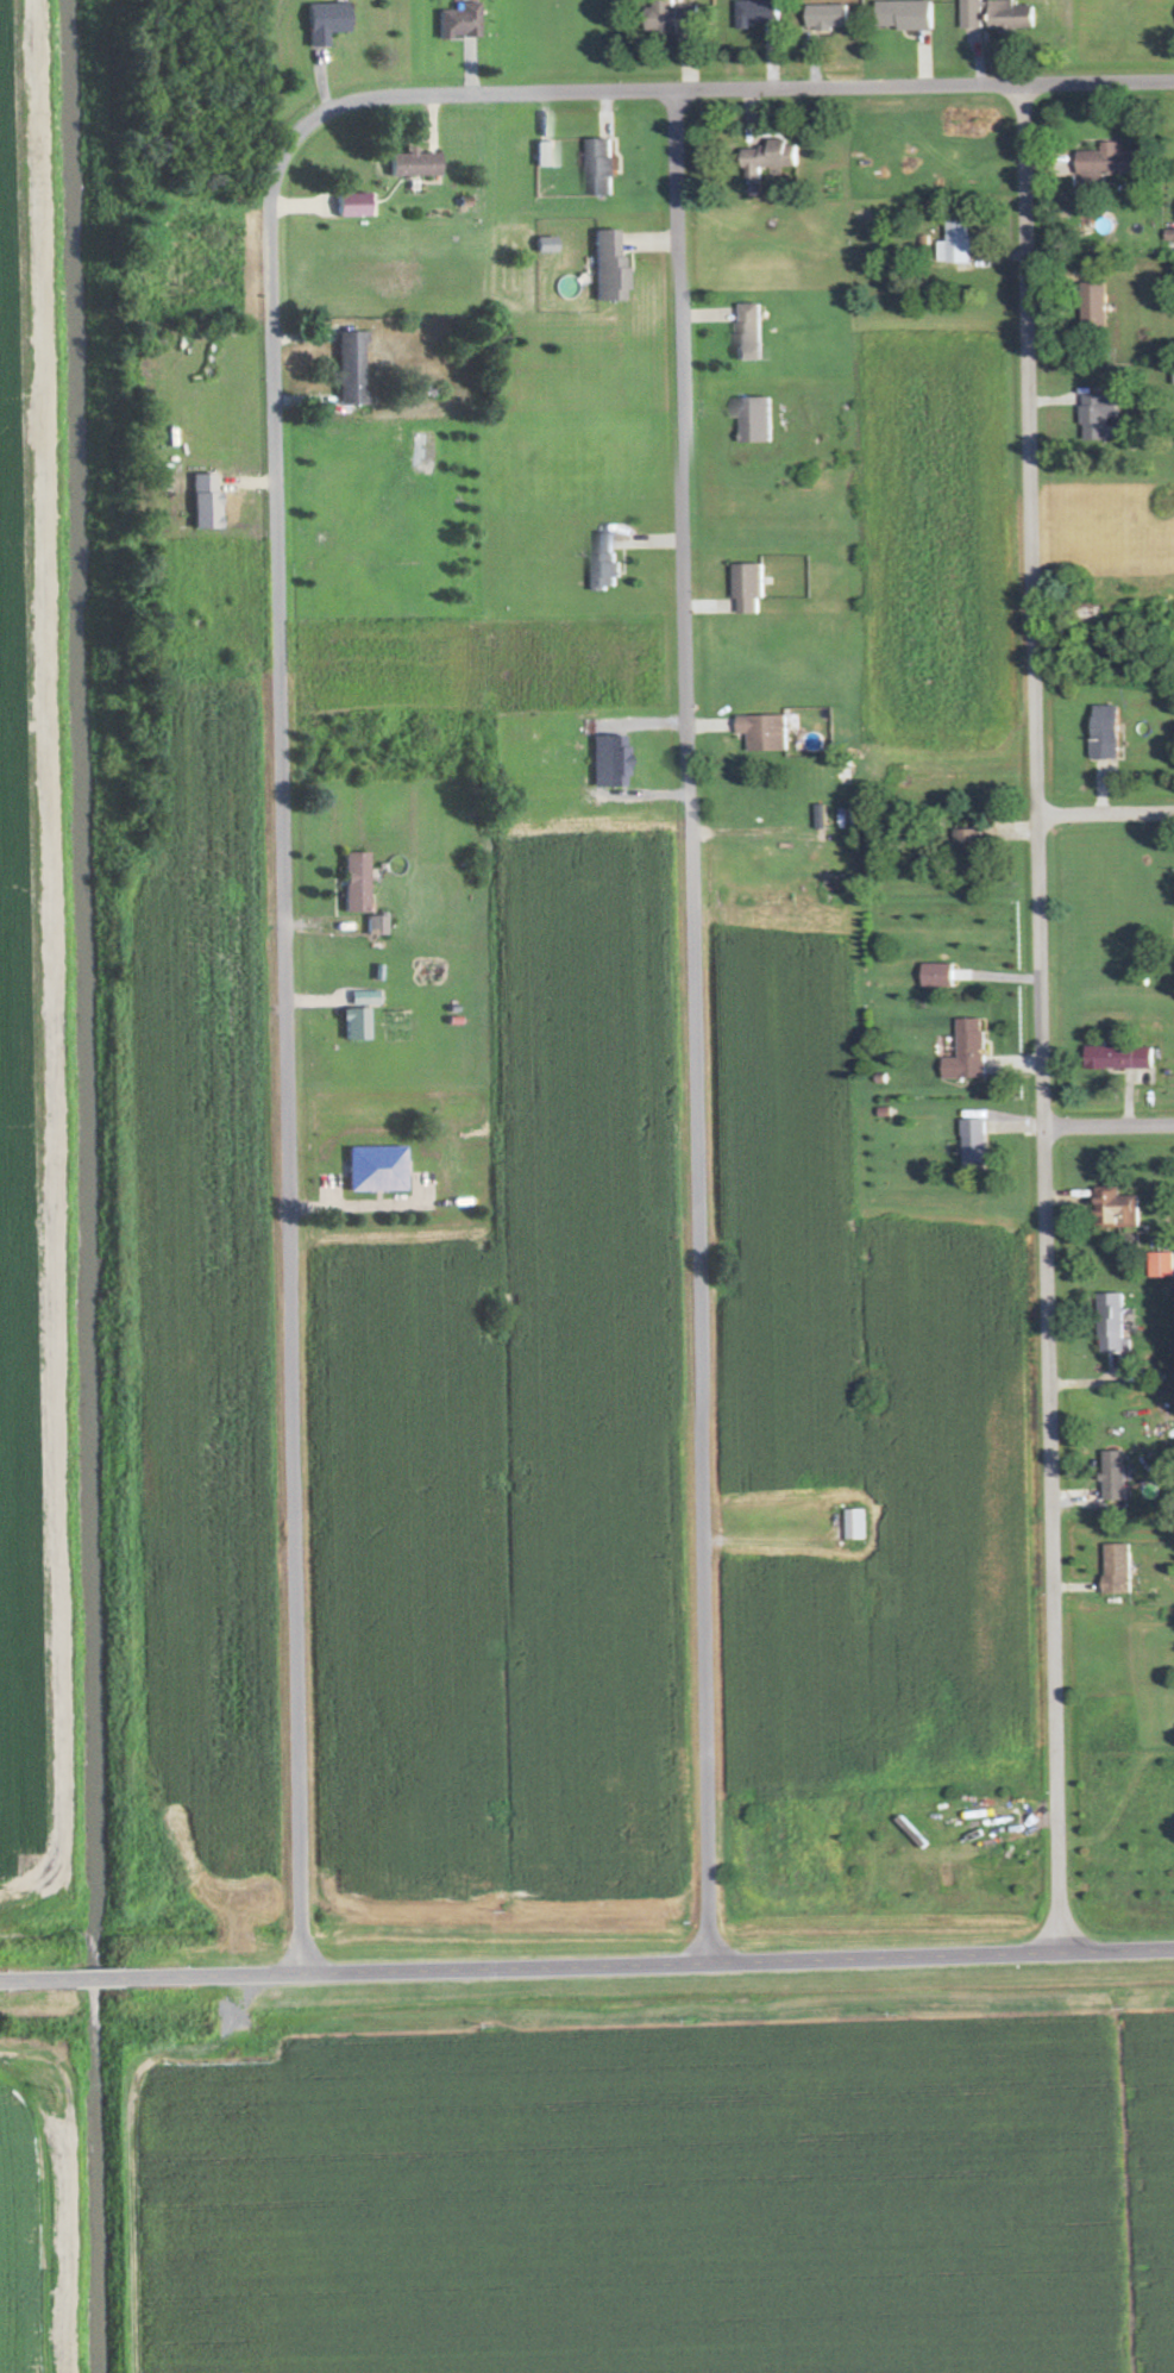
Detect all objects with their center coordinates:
building: (764, 13)
building: (975, 14)
building: (911, 15)
building: (835, 17)
building: (1016, 17)
building: (682, 18)
building: (325, 21)
building: (459, 21)
road: (922, 81)
building: (546, 154)
building: (774, 158)
building: (1115, 162)
building: (414, 164)
building: (605, 168)
building: (352, 205)
building: (546, 244)
building: (961, 244)
building: (609, 268)
building: (1100, 302)
building: (754, 332)
building: (351, 369)
building: (1097, 417)
building: (206, 501)
building: (603, 561)
building: (747, 587)
building: (762, 732)
building: (1103, 732)
building: (603, 760)
road: (1104, 809)
building: (965, 840)
road: (278, 851)
building: (357, 881)
building: (376, 925)
road: (50, 971)
building: (935, 976)
road: (1038, 1013)
road: (690, 1021)
building: (356, 1023)
building: (965, 1052)
building: (1116, 1058)
road: (1107, 1121)
building: (972, 1142)
building: (378, 1169)
building: (1113, 1209)
building: (1160, 1265)
building: (1110, 1325)
building: (1111, 1476)
building: (853, 1524)
building: (1115, 1570)
road: (586, 1960)
road: (69, 2189)

